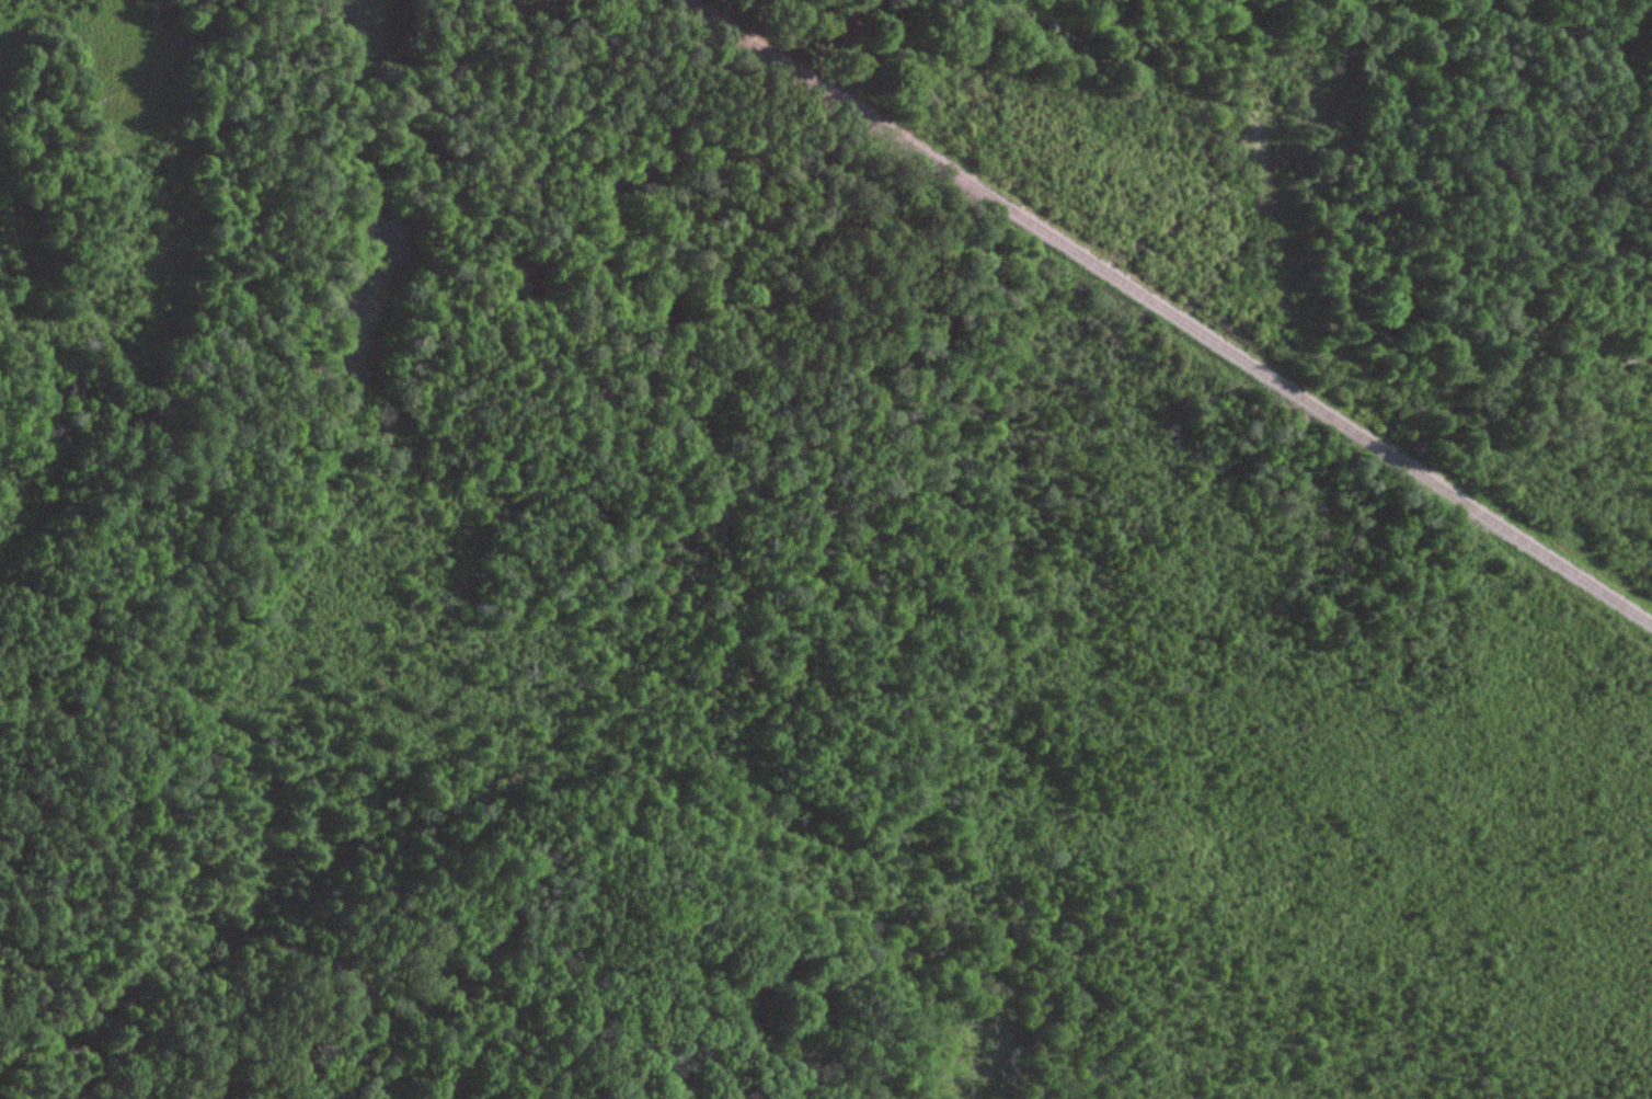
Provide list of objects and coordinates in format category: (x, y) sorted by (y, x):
railway: (1170, 310)

